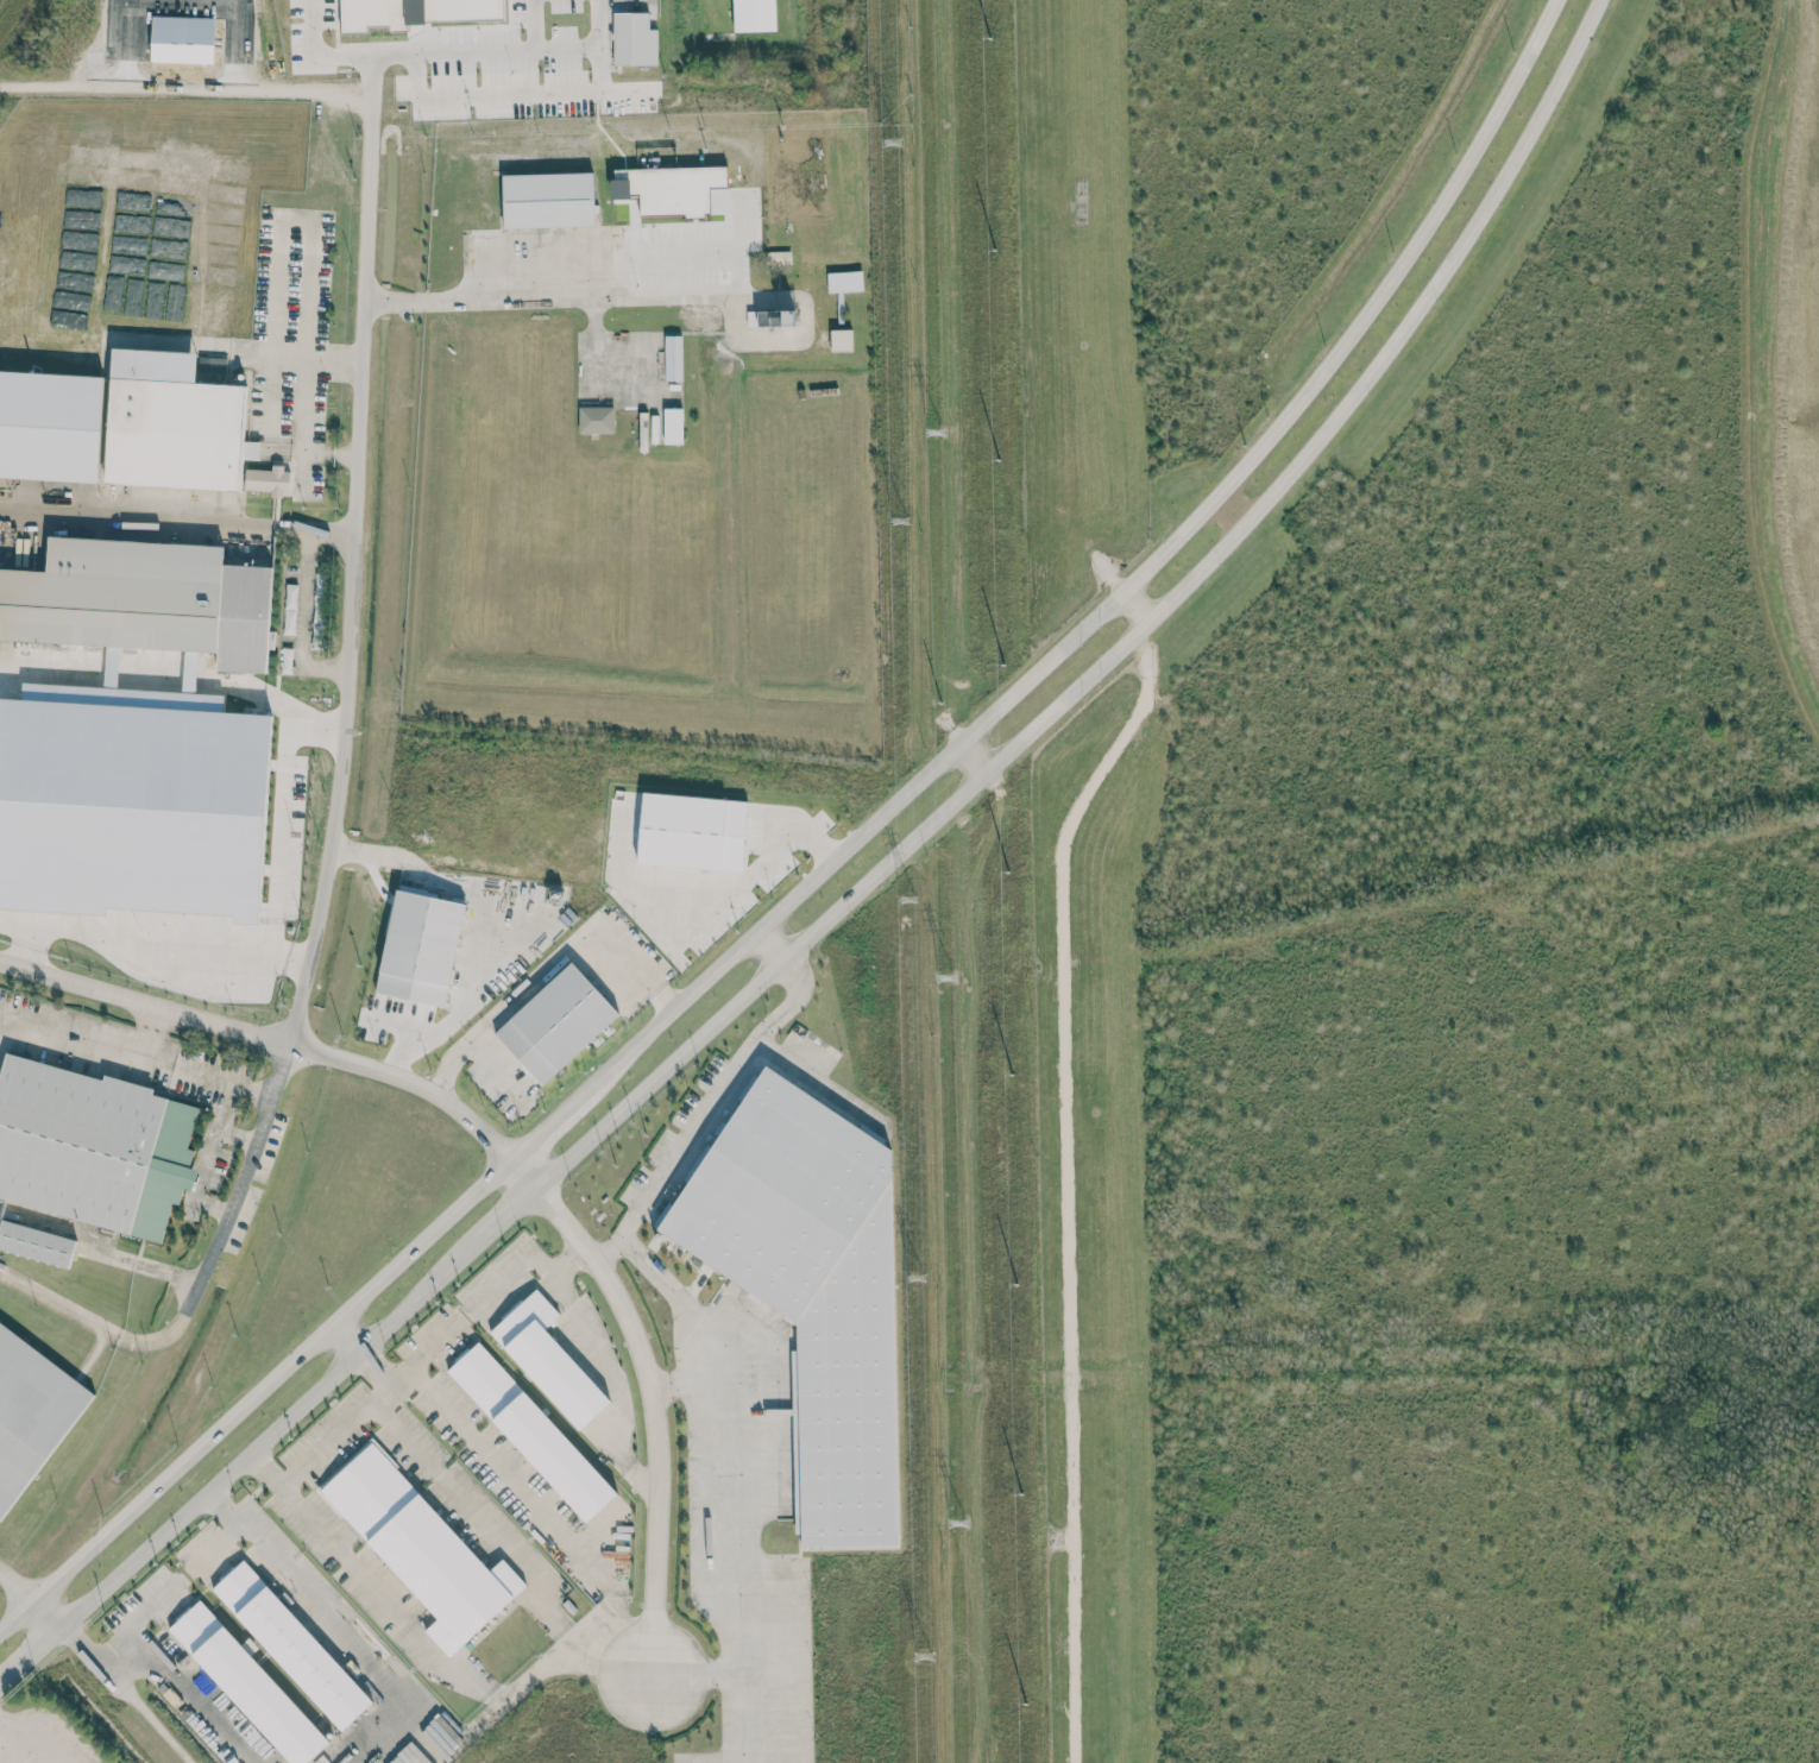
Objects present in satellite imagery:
road: (184, 1)
building: (415, 12)
building: (753, 15)
building: (632, 39)
road: (587, 42)
road: (508, 52)
road: (317, 57)
road: (185, 87)
power tower: (889, 139)
building: (668, 189)
building: (547, 200)
road: (308, 279)
road: (542, 300)
building: (769, 317)
building: (841, 339)
road: (233, 347)
building: (672, 358)
building: (596, 420)
building: (172, 423)
building: (50, 424)
building: (673, 426)
power tower: (932, 432)
road: (328, 453)
building: (267, 480)
power tower: (898, 520)
road: (177, 521)
road: (354, 524)
building: (141, 599)
road: (1135, 605)
road: (302, 621)
road: (975, 756)
building: (691, 831)
road: (272, 855)
road: (833, 858)
road: (764, 861)
road: (858, 889)
power tower: (906, 899)
road: (479, 914)
road: (770, 943)
building: (420, 947)
road: (548, 966)
power tower: (944, 977)
building: (555, 1024)
road: (151, 1033)
road: (134, 1054)
road: (496, 1075)
road: (705, 1110)
building: (90, 1146)
road: (515, 1160)
road: (204, 1163)
road: (1065, 1177)
building: (36, 1242)
road: (567, 1261)
road: (139, 1265)
road: (506, 1277)
road: (196, 1278)
power tower: (912, 1278)
building: (812, 1290)
road: (345, 1336)
building: (547, 1359)
road: (374, 1367)
building: (31, 1412)
building: (530, 1431)
road: (732, 1481)
road: (528, 1499)
road: (477, 1518)
power tower: (955, 1523)
road: (598, 1526)
road: (215, 1543)
building: (420, 1548)
road: (369, 1586)
road: (46, 1614)
road: (134, 1618)
road: (336, 1626)
building: (290, 1644)
road: (555, 1657)
power tower: (920, 1657)
road: (691, 1679)
building: (247, 1685)
road: (193, 1693)
building: (298, 1696)
road: (140, 1711)
road: (20, 1739)
road: (40, 1761)

